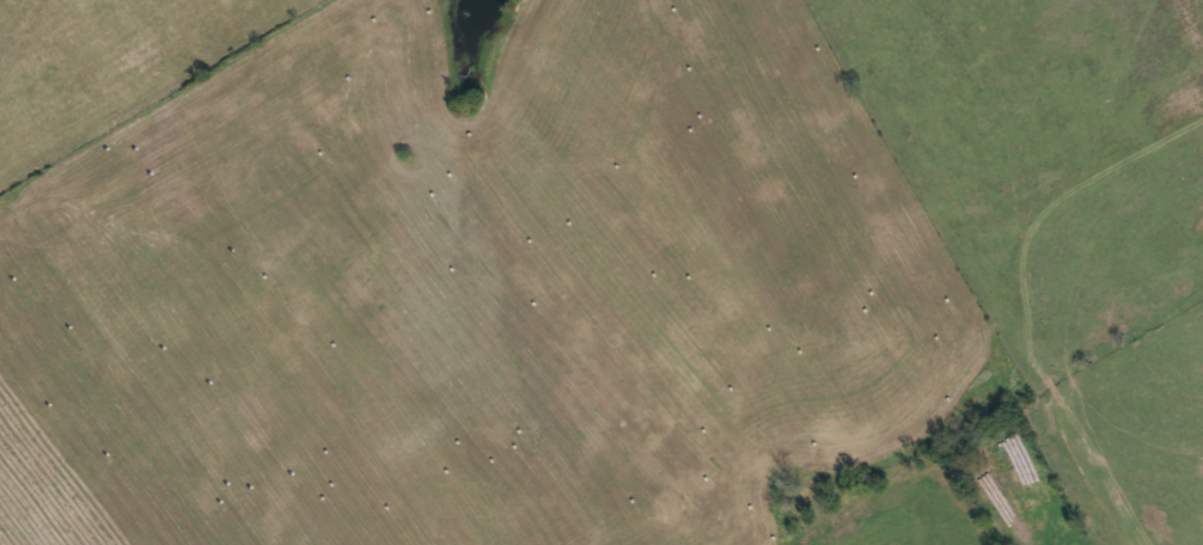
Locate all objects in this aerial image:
road: (1026, 293)

